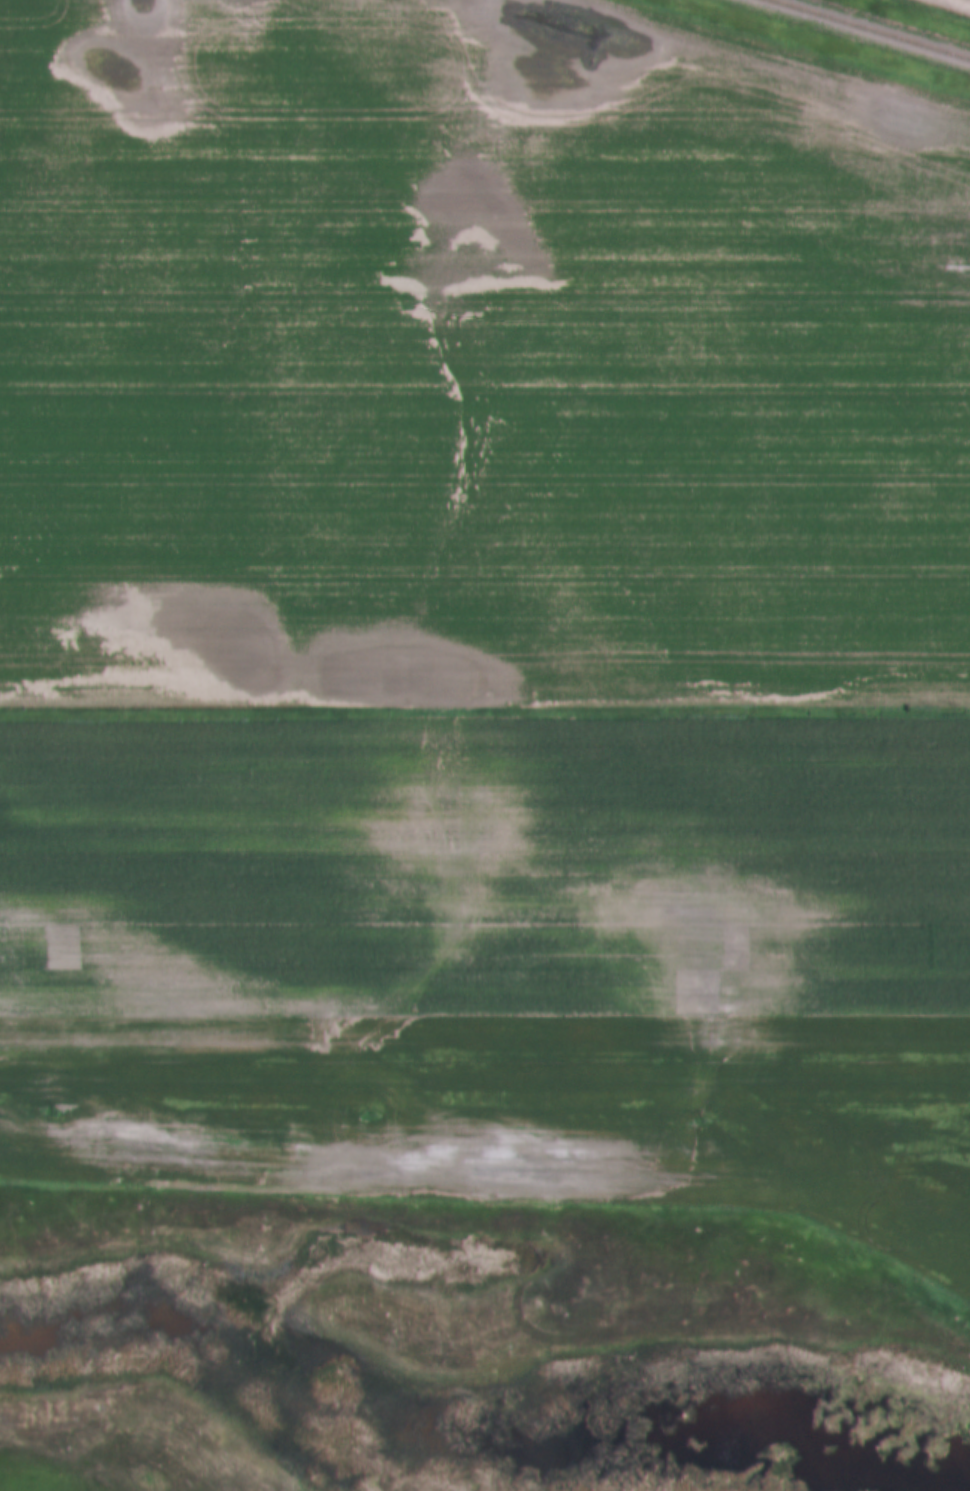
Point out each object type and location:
railway: (867, 30)

